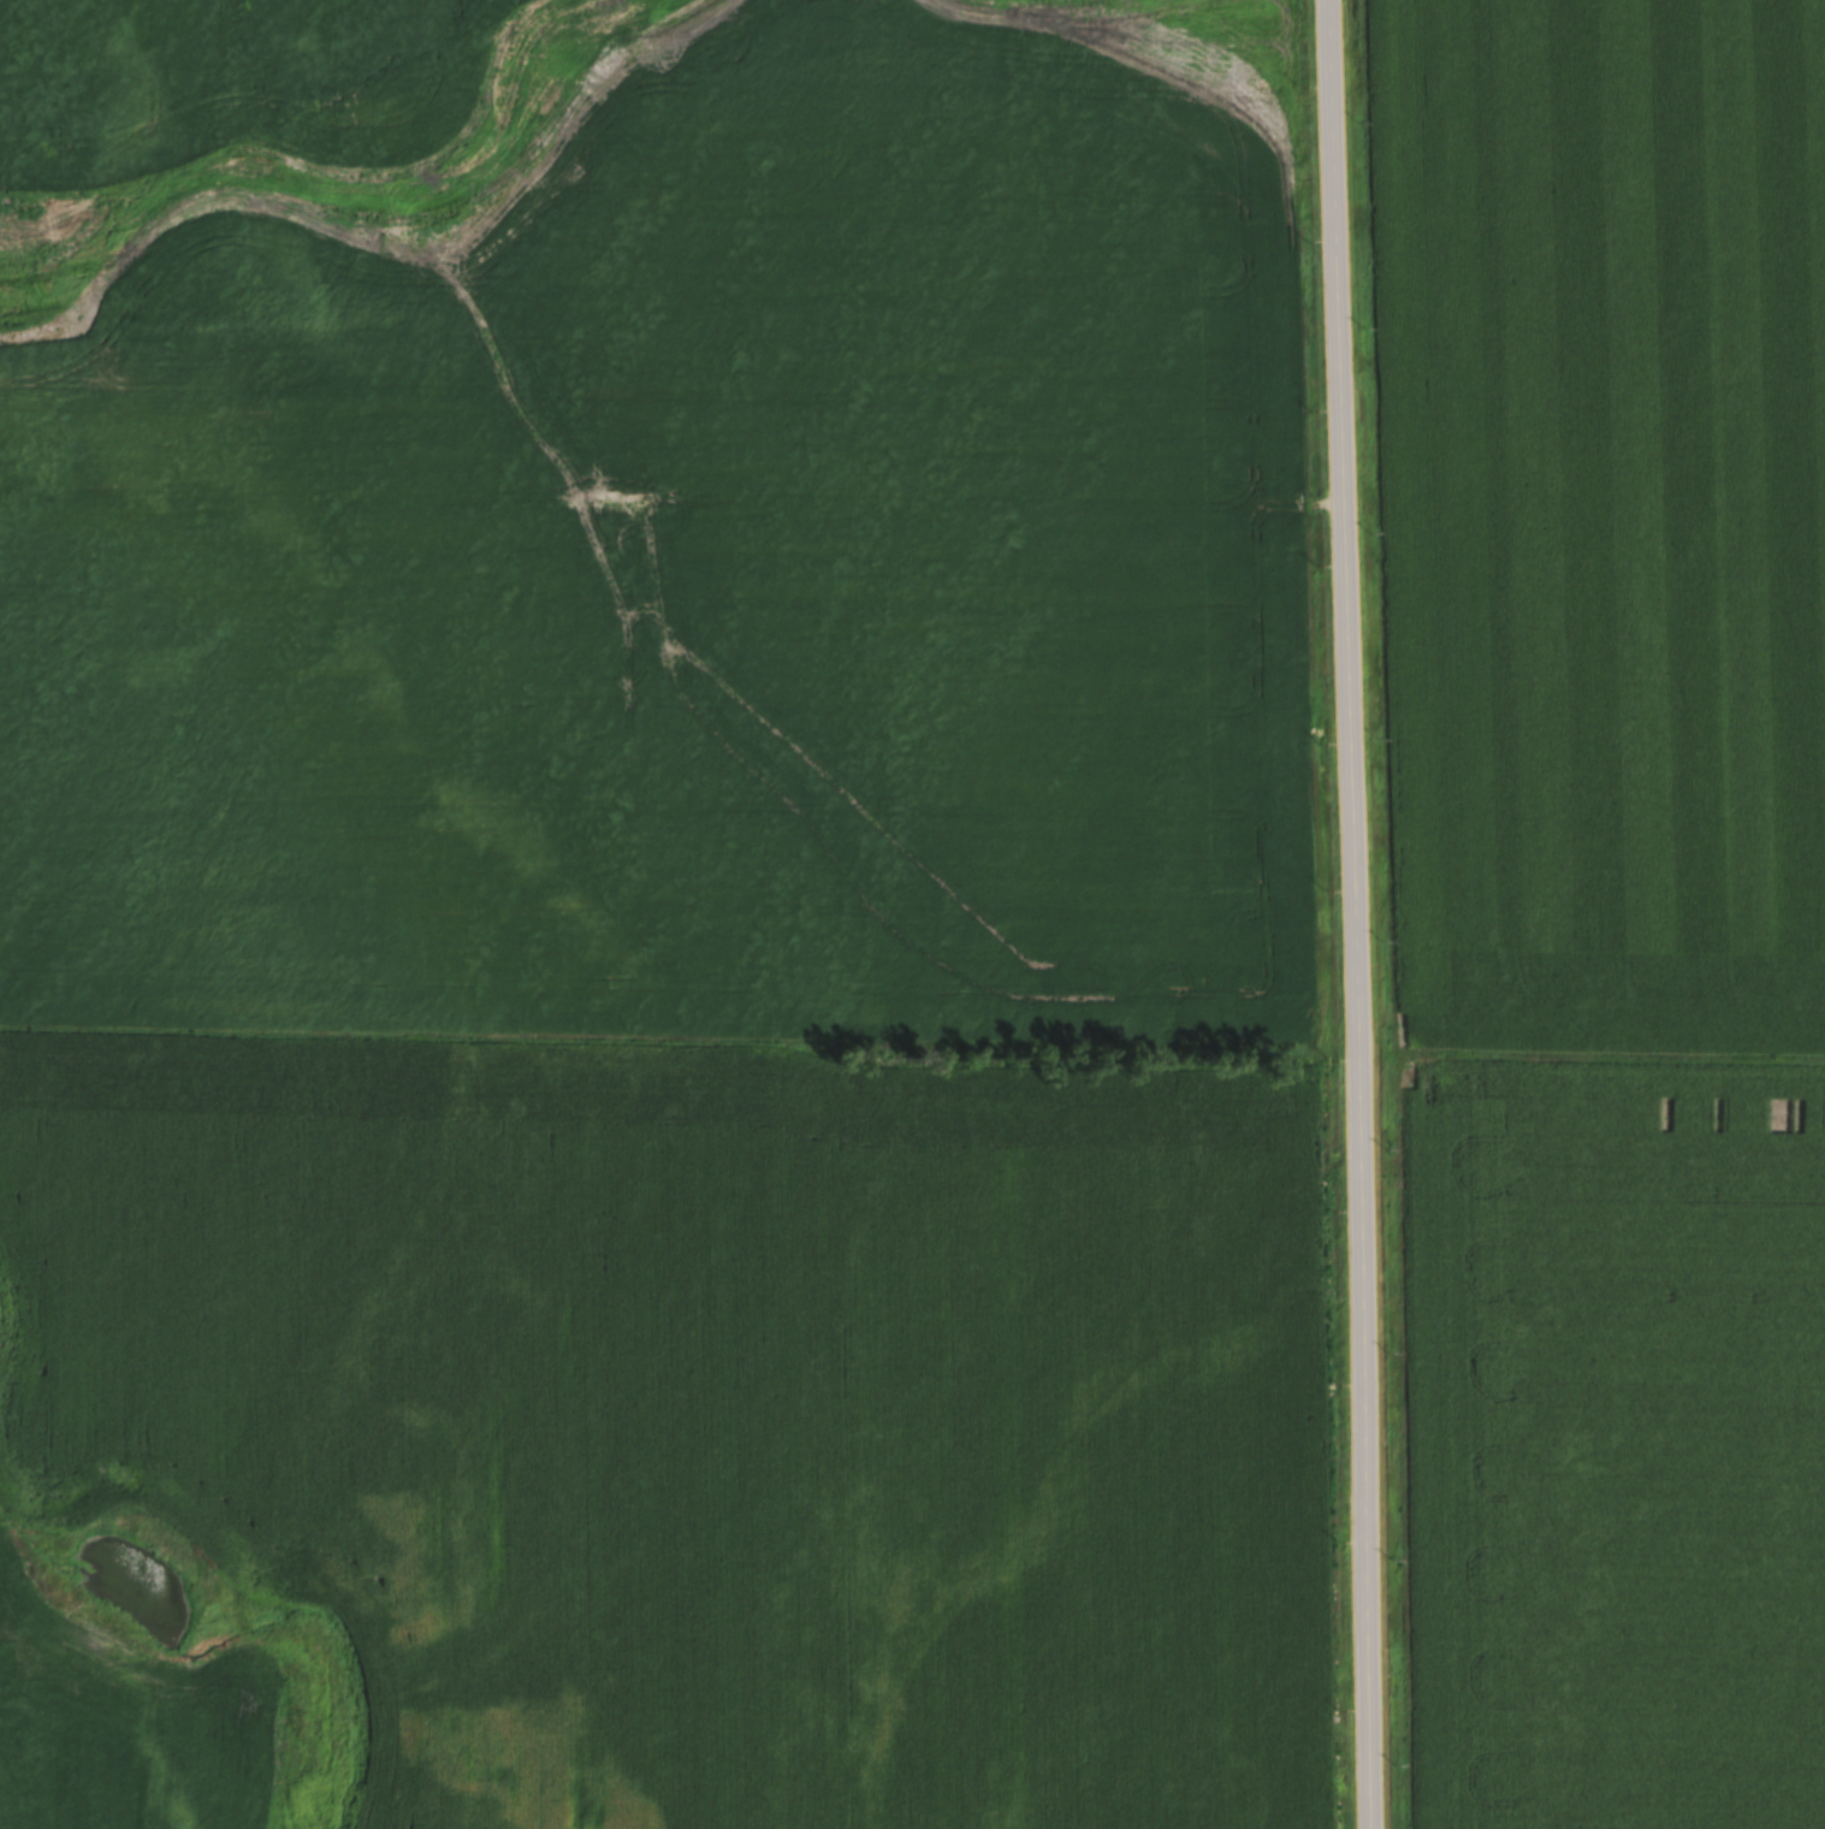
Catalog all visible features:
road: (1362, 913)

